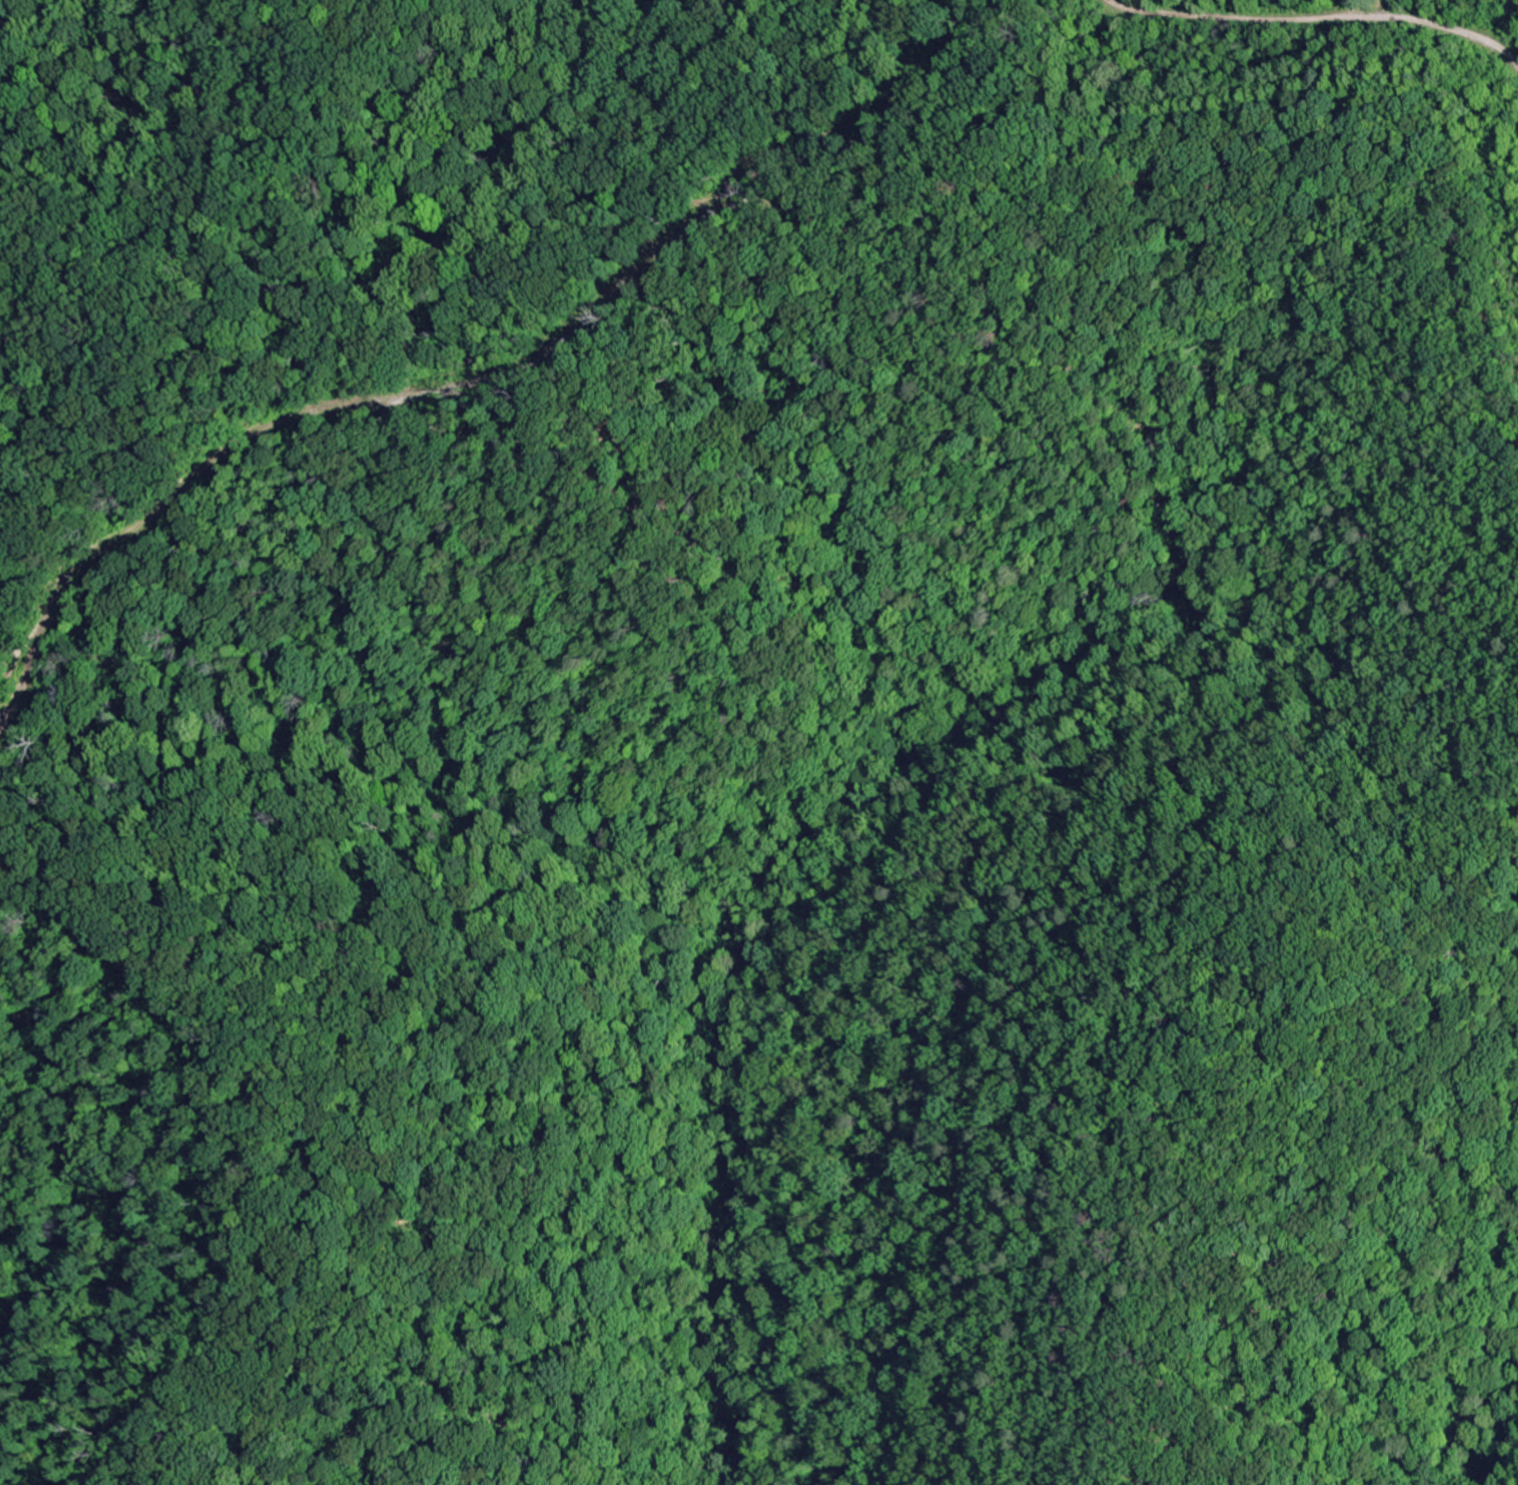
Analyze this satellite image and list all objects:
road: (1302, 18)

